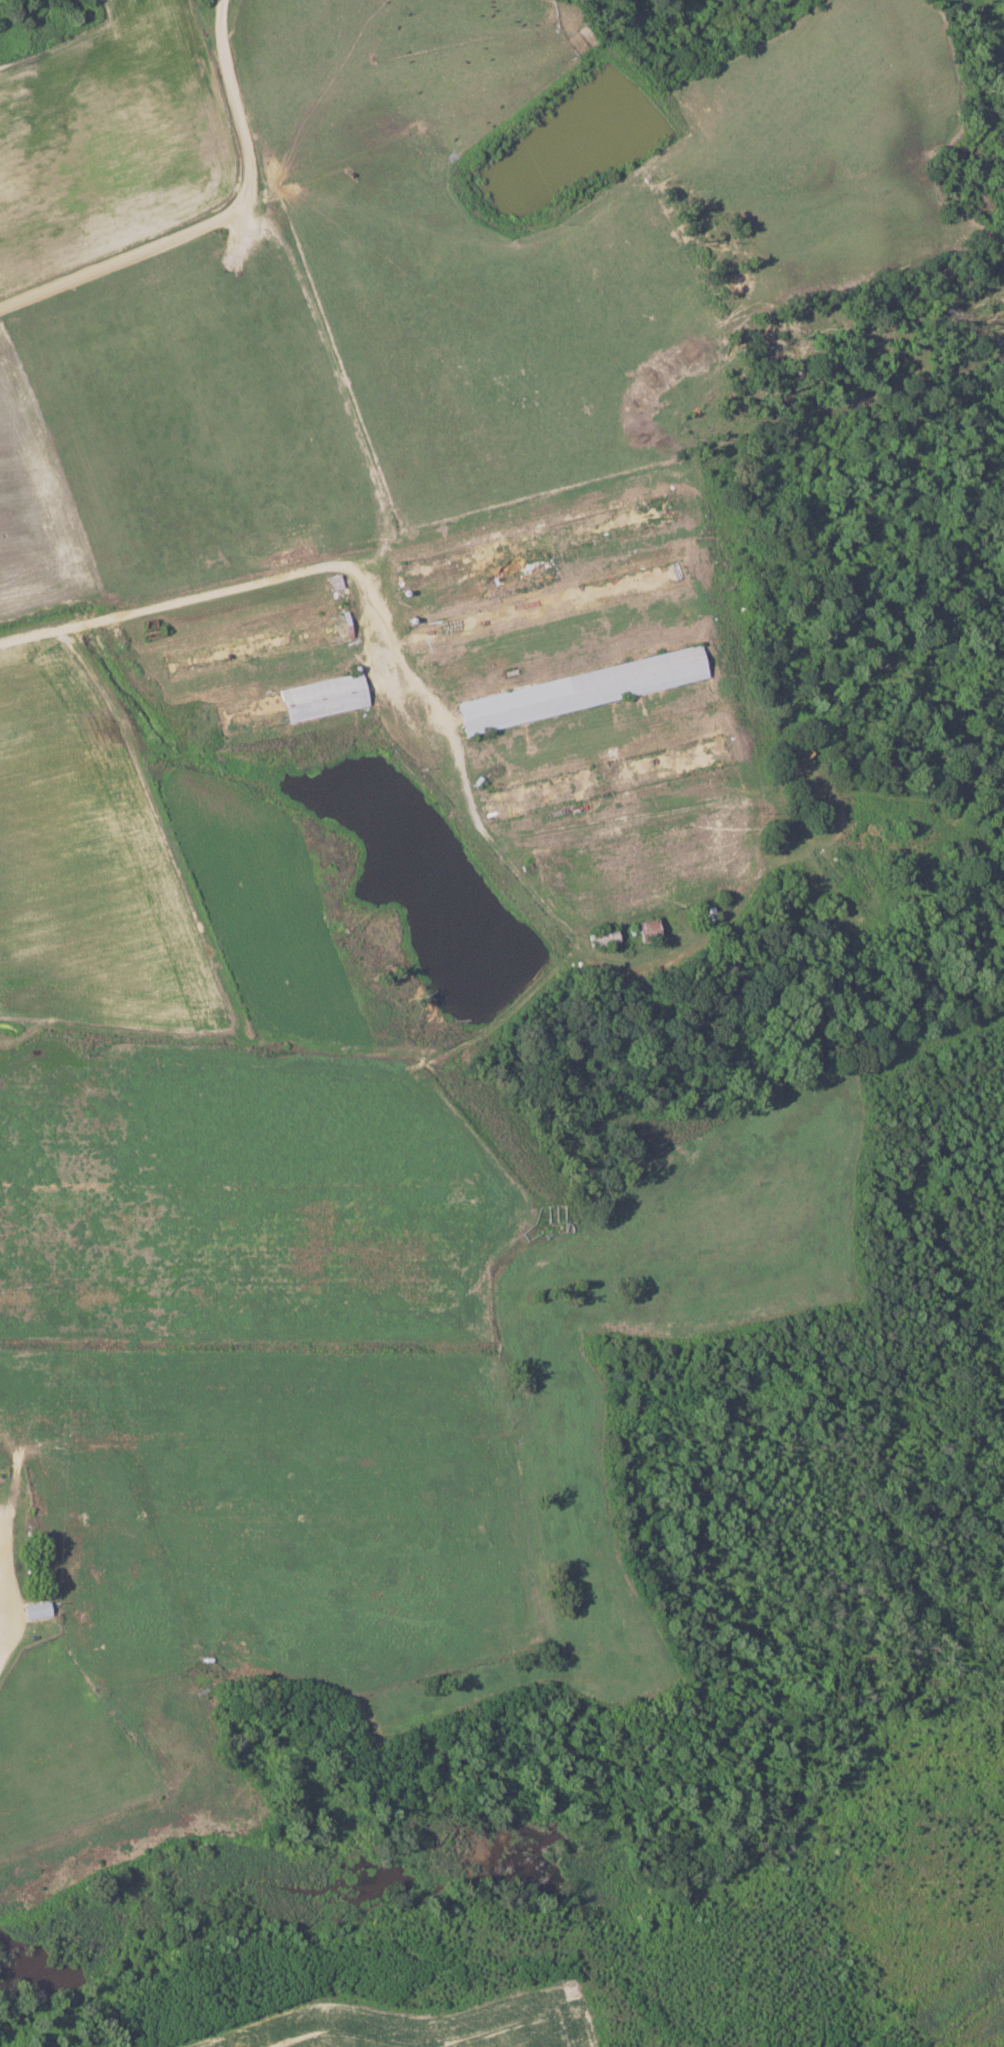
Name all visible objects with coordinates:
building: (665, 573)
building: (322, 697)
building: (528, 702)
building: (36, 1610)

